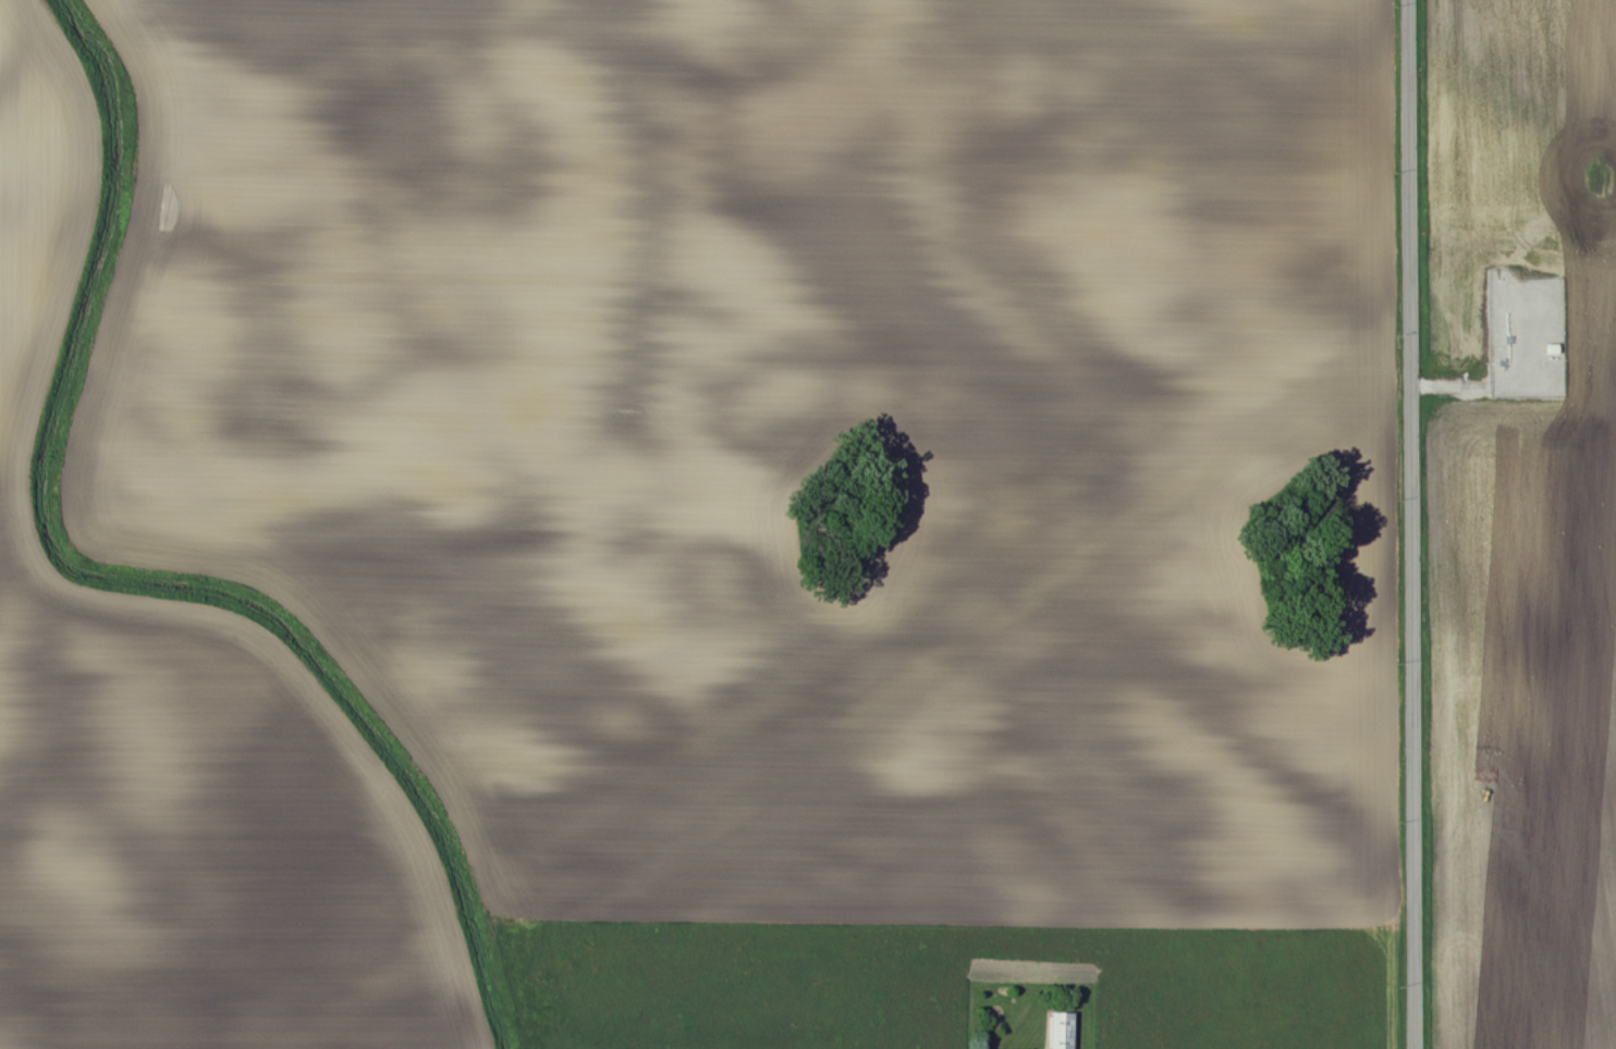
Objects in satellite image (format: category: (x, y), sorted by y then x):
road: (1410, 523)
building: (1060, 1031)

